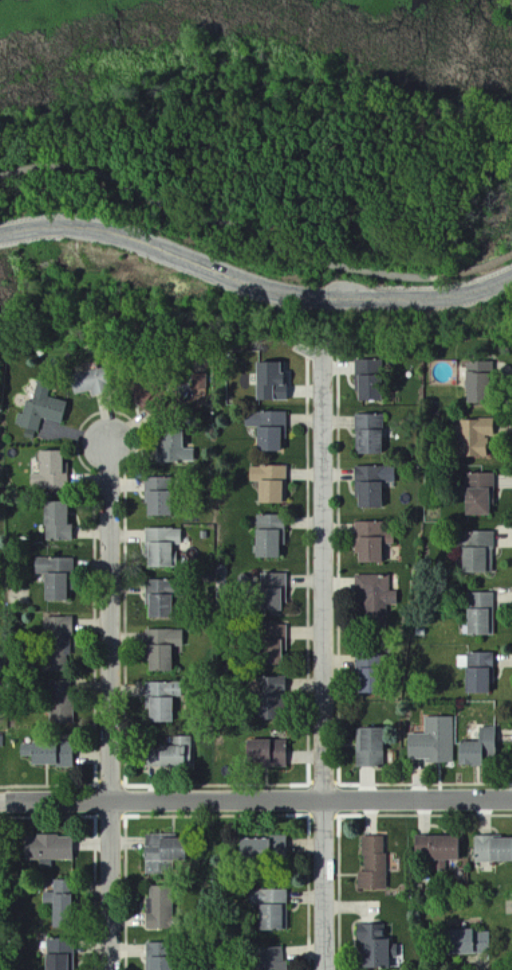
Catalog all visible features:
road: (255, 231)
road: (253, 281)
building: (272, 381)
building: (368, 381)
building: (477, 383)
building: (41, 410)
building: (267, 430)
building: (369, 435)
building: (475, 438)
building: (173, 448)
building: (49, 472)
building: (270, 484)
building: (372, 485)
building: (477, 491)
building: (156, 497)
building: (56, 523)
building: (267, 536)
building: (372, 542)
building: (161, 547)
building: (477, 553)
building: (54, 577)
building: (272, 593)
building: (158, 599)
building: (374, 600)
building: (480, 614)
building: (58, 645)
building: (274, 645)
building: (161, 649)
road: (325, 662)
building: (478, 673)
building: (365, 675)
building: (271, 694)
road: (113, 708)
building: (159, 711)
building: (433, 742)
building: (370, 748)
building: (478, 749)
building: (265, 753)
building: (46, 755)
building: (167, 757)
road: (256, 801)
building: (262, 848)
building: (48, 849)
building: (163, 849)
building: (435, 849)
building: (493, 850)
building: (373, 865)
building: (58, 905)
building: (159, 909)
building: (270, 909)
building: (467, 943)
building: (374, 948)
building: (56, 955)
building: (158, 957)
building: (272, 959)

